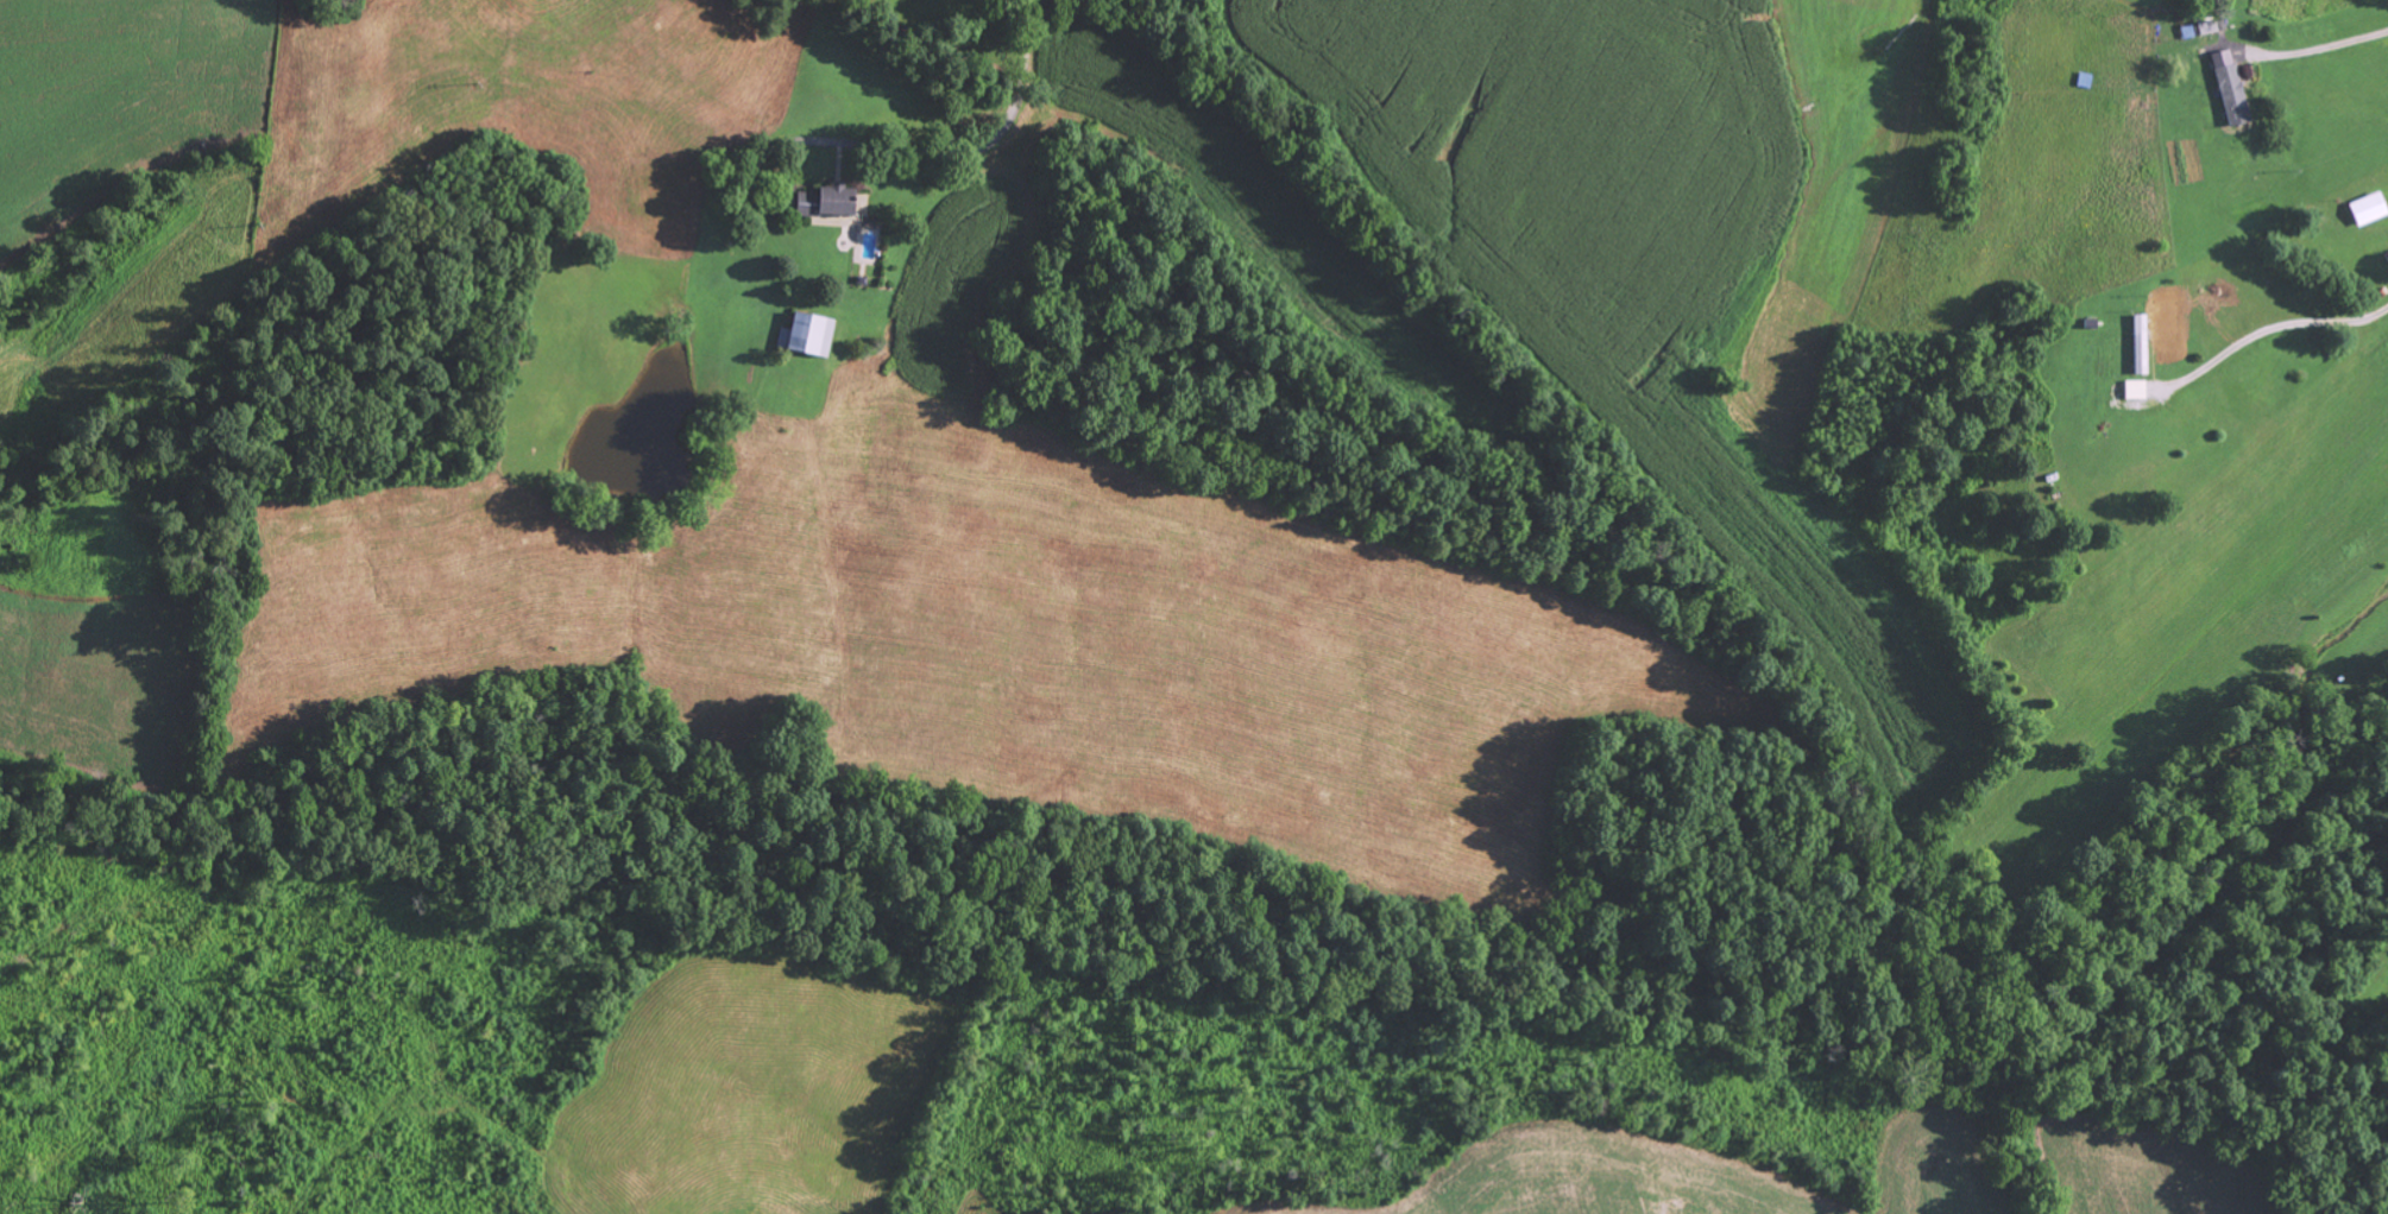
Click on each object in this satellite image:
building: (2205, 27)
building: (2228, 87)
building: (823, 200)
building: (2365, 208)
road: (2273, 331)
building: (806, 333)
building: (2134, 388)

